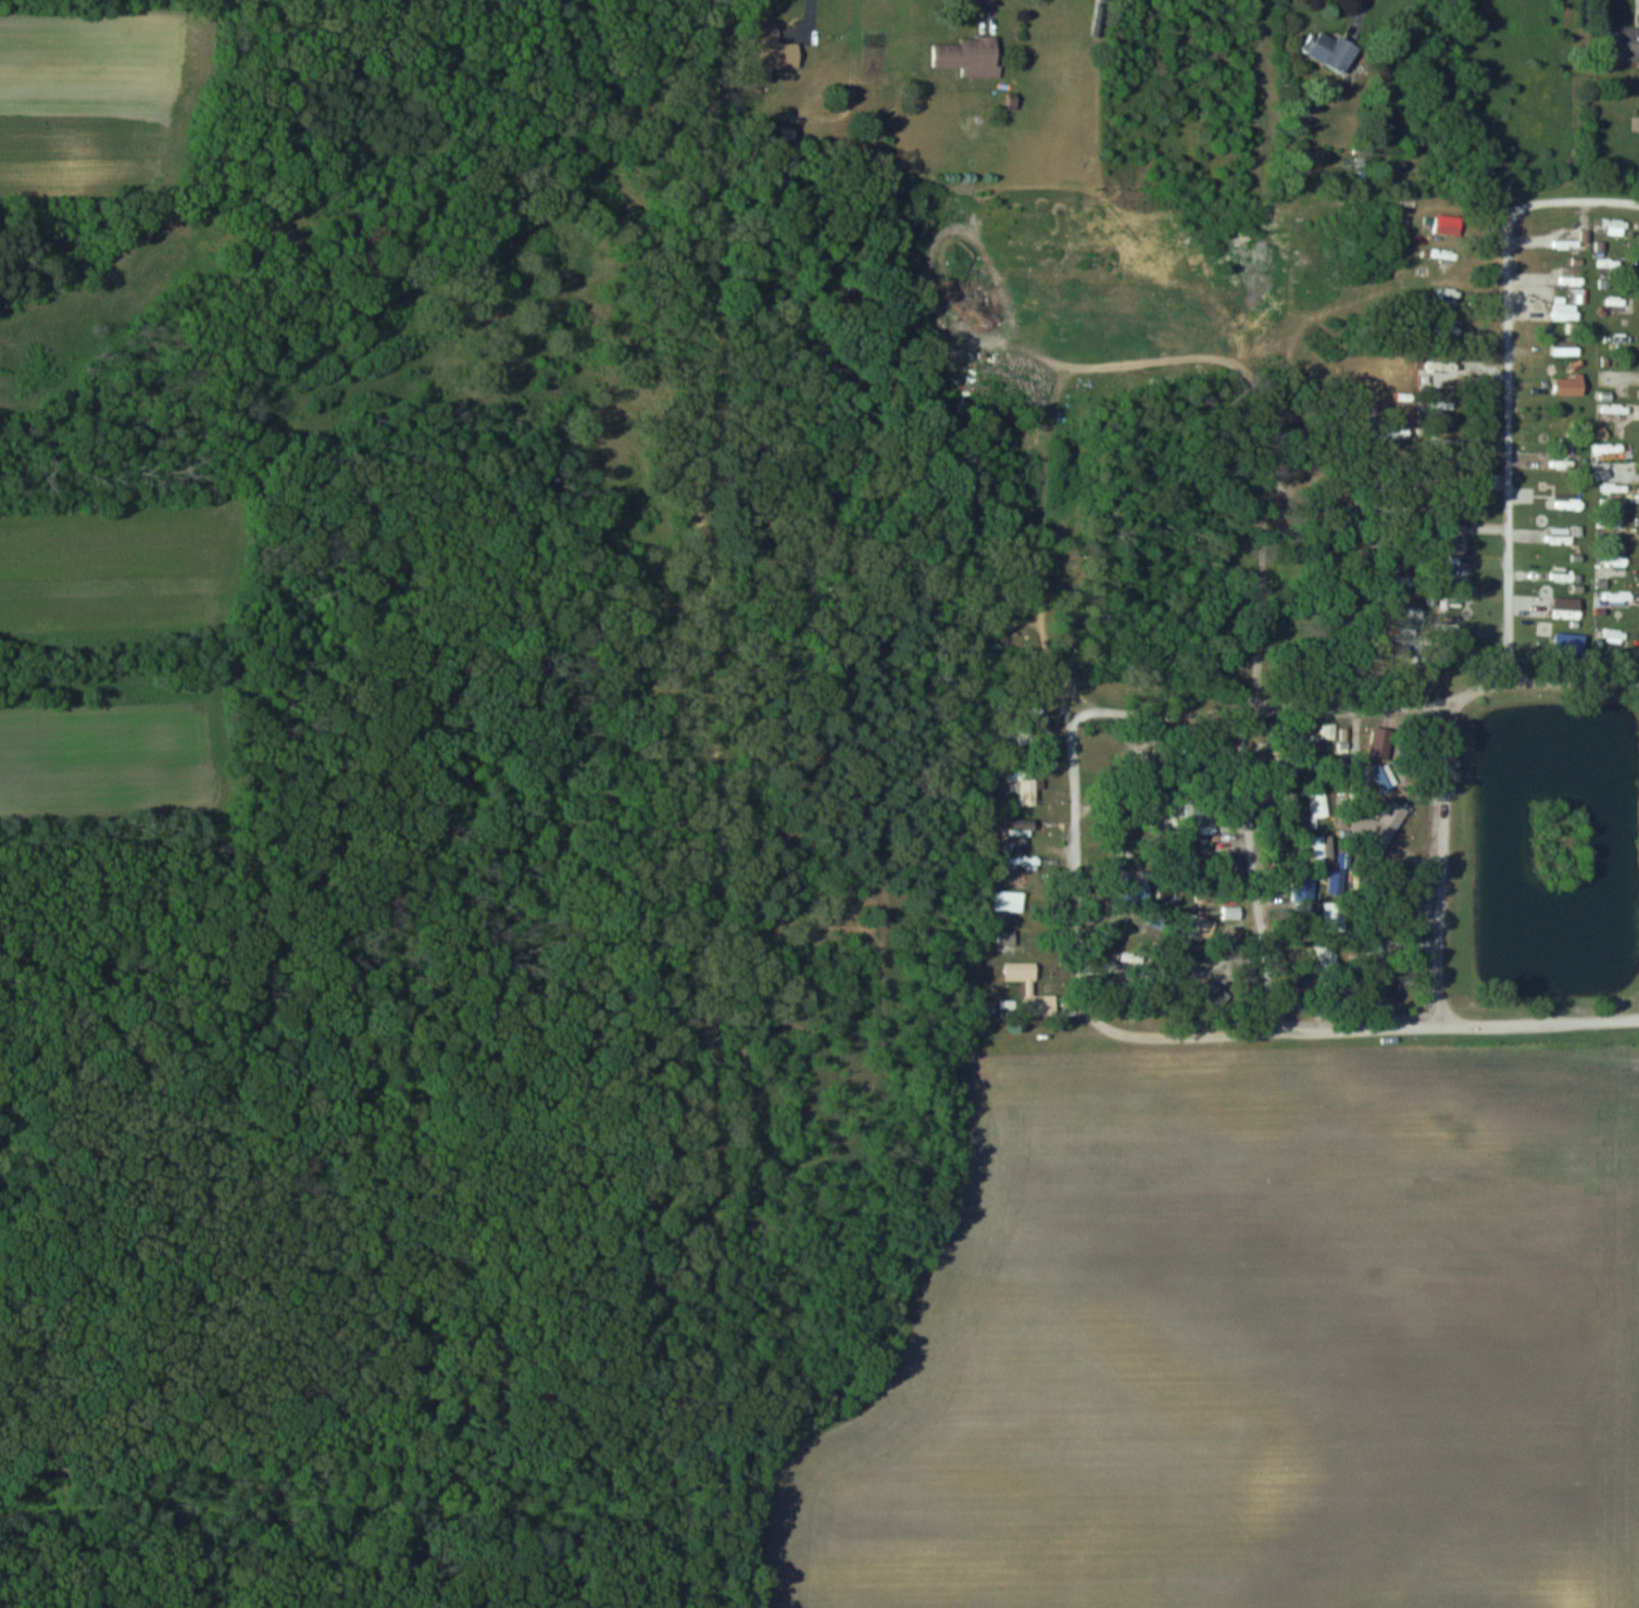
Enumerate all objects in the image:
building: (1618, 43)
building: (773, 49)
building: (1327, 50)
building: (967, 56)
building: (1446, 225)
building: (1605, 226)
building: (1446, 293)
building: (1565, 309)
building: (1563, 347)
building: (1611, 378)
building: (1447, 406)
building: (1636, 412)
building: (1565, 461)
building: (1566, 504)
building: (1612, 563)
building: (1562, 575)
building: (1613, 596)
building: (1564, 606)
building: (1411, 615)
building: (1613, 632)
building: (1319, 737)
building: (1026, 791)
building: (1316, 804)
building: (1187, 814)
building: (1390, 816)
building: (1015, 825)
building: (1319, 849)
building: (1122, 854)
building: (1017, 862)
building: (1134, 888)
building: (1204, 889)
building: (1006, 901)
building: (1204, 927)
building: (1004, 941)
building: (1018, 968)
building: (1211, 992)

